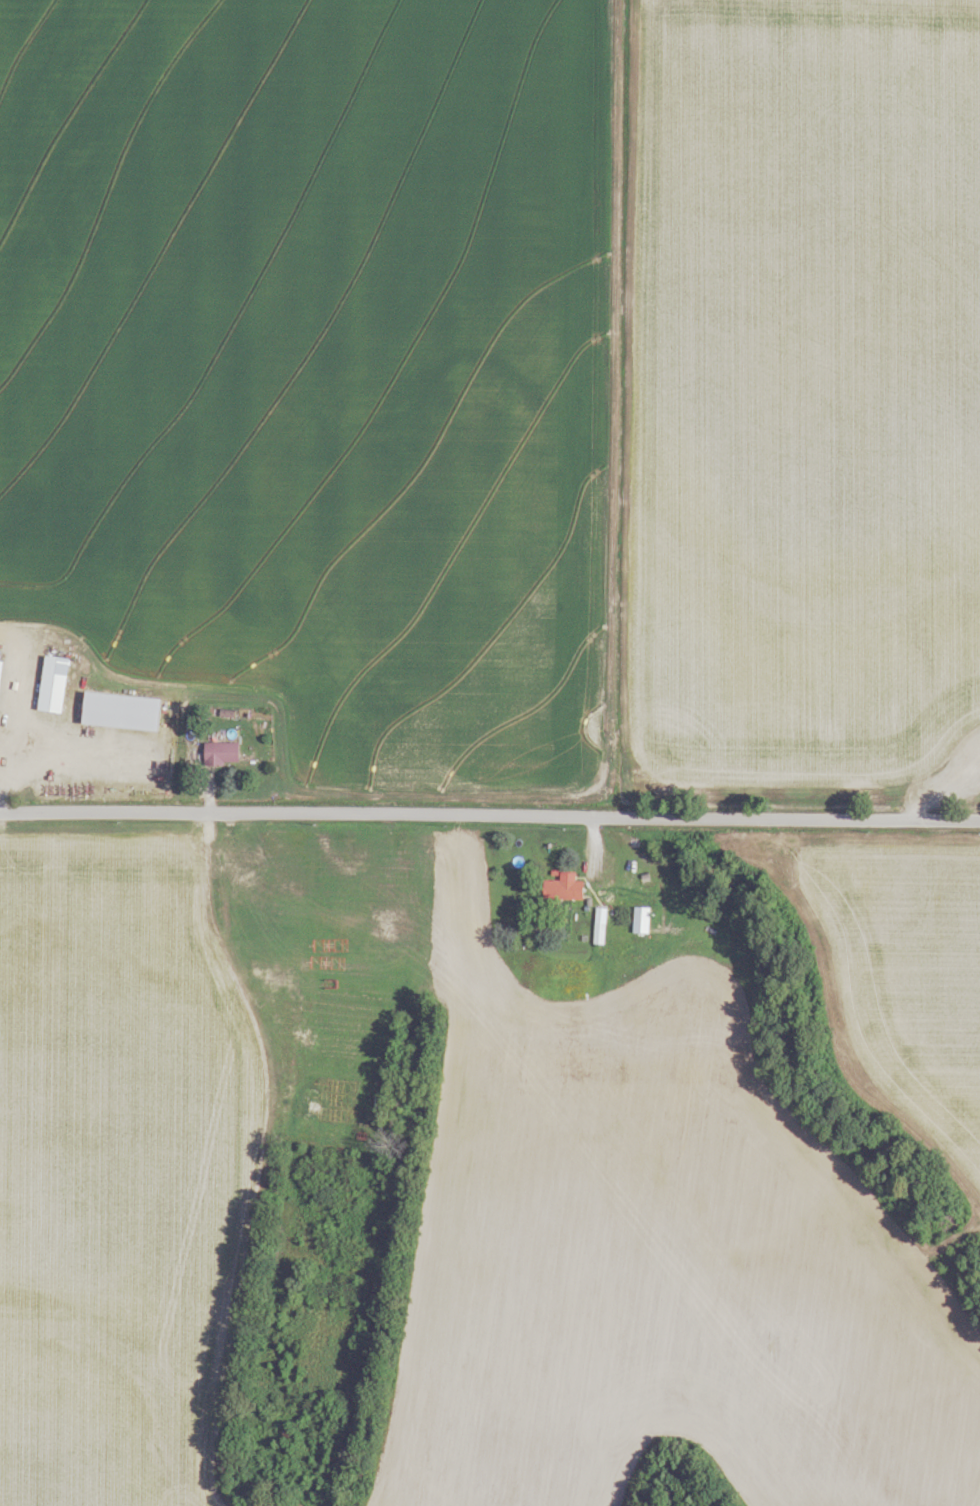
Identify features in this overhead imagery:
building: (52, 682)
building: (120, 710)
road: (15, 722)
building: (220, 752)
road: (945, 792)
road: (490, 816)
building: (239, 872)
building: (562, 887)
building: (639, 920)
building: (598, 925)
road: (268, 1149)

